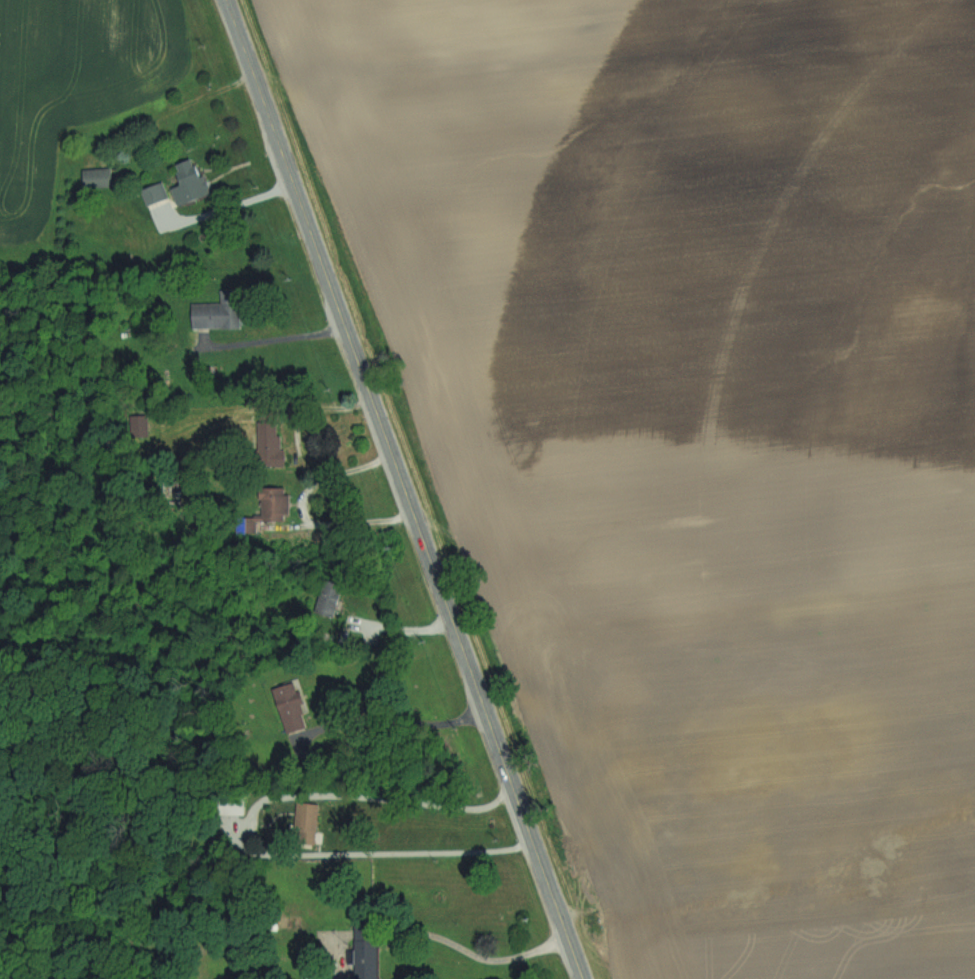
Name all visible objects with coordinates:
building: (101, 179)
building: (193, 183)
building: (157, 194)
road: (227, 205)
road: (282, 344)
building: (271, 426)
road: (405, 489)
building: (274, 506)
road: (301, 518)
road: (399, 636)
building: (295, 710)
road: (399, 730)
road: (244, 842)
road: (480, 966)

